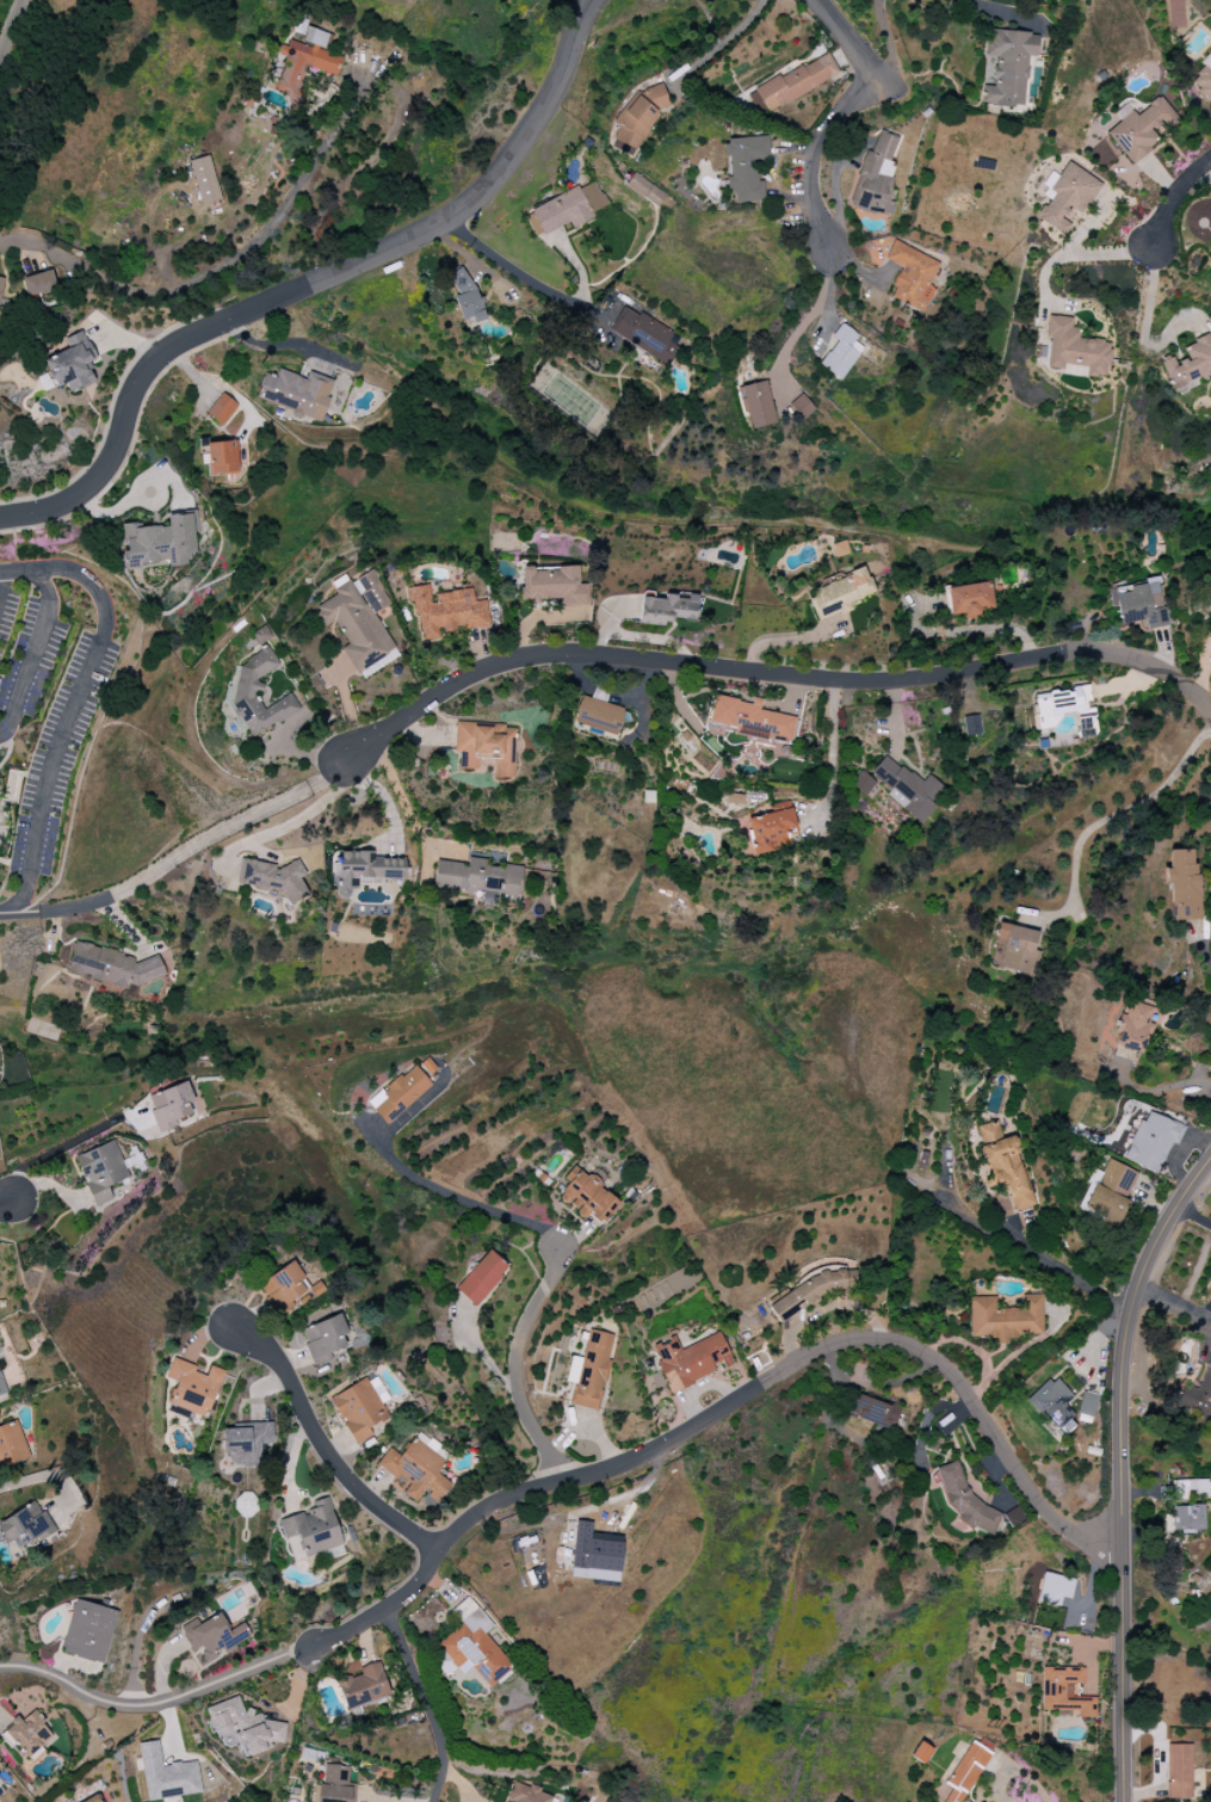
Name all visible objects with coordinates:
road: (8, 23)
road: (889, 49)
building: (304, 62)
building: (1008, 67)
building: (1203, 79)
building: (796, 81)
road: (832, 125)
building: (1139, 129)
building: (744, 167)
road: (1207, 174)
building: (877, 175)
building: (204, 180)
building: (644, 190)
building: (1065, 197)
building: (568, 208)
road: (1167, 212)
road: (1063, 253)
road: (1151, 263)
road: (527, 270)
building: (912, 276)
road: (199, 278)
road: (308, 280)
building: (0, 283)
building: (38, 283)
road: (1044, 285)
building: (464, 296)
road: (1061, 306)
road: (810, 315)
building: (641, 332)
road: (1145, 345)
road: (274, 346)
building: (1074, 348)
building: (840, 352)
building: (70, 364)
building: (1190, 364)
building: (296, 393)
building: (756, 405)
building: (801, 407)
building: (221, 408)
building: (222, 458)
building: (159, 542)
road: (20, 576)
building: (551, 586)
building: (1207, 588)
road: (5, 592)
building: (840, 593)
building: (968, 599)
building: (1138, 604)
building: (667, 610)
building: (445, 611)
building: (359, 622)
road: (970, 629)
building: (261, 635)
road: (101, 641)
road: (753, 671)
building: (243, 691)
building: (1064, 706)
road: (350, 711)
building: (598, 716)
building: (749, 720)
building: (971, 724)
building: (486, 747)
road: (833, 752)
road: (297, 754)
building: (861, 783)
building: (907, 789)
road: (379, 792)
road: (401, 800)
road: (1123, 809)
road: (289, 823)
building: (765, 831)
road: (210, 841)
building: (363, 870)
building: (272, 878)
building: (478, 878)
building: (1181, 884)
road: (56, 911)
road: (119, 922)
building: (1014, 950)
building: (112, 967)
building: (1133, 1027)
building: (402, 1091)
building: (169, 1105)
building: (1151, 1141)
road: (67, 1144)
building: (1005, 1165)
building: (100, 1168)
building: (1110, 1191)
building: (587, 1196)
road: (456, 1199)
road: (8, 1202)
road: (1051, 1269)
building: (481, 1278)
building: (283, 1288)
building: (808, 1294)
road: (1173, 1301)
building: (1005, 1317)
building: (323, 1338)
building: (690, 1359)
road: (517, 1365)
building: (589, 1371)
road: (774, 1377)
building: (192, 1387)
building: (1198, 1396)
building: (1054, 1401)
building: (1087, 1405)
building: (360, 1407)
building: (872, 1412)
building: (245, 1443)
building: (11, 1445)
road: (326, 1449)
road: (1122, 1465)
building: (416, 1469)
road: (39, 1476)
building: (1180, 1489)
building: (245, 1506)
building: (1013, 1516)
building: (1182, 1519)
building: (24, 1526)
building: (314, 1529)
building: (594, 1554)
building: (1055, 1588)
road: (354, 1628)
building: (88, 1631)
building: (212, 1636)
building: (471, 1646)
road: (305, 1649)
building: (363, 1686)
building: (1064, 1692)
road: (430, 1703)
road: (147, 1704)
building: (243, 1728)
building: (29, 1734)
building: (1179, 1771)
building: (965, 1772)
building: (166, 1775)
building: (335, 1785)
building: (526, 1794)
building: (94, 1800)

